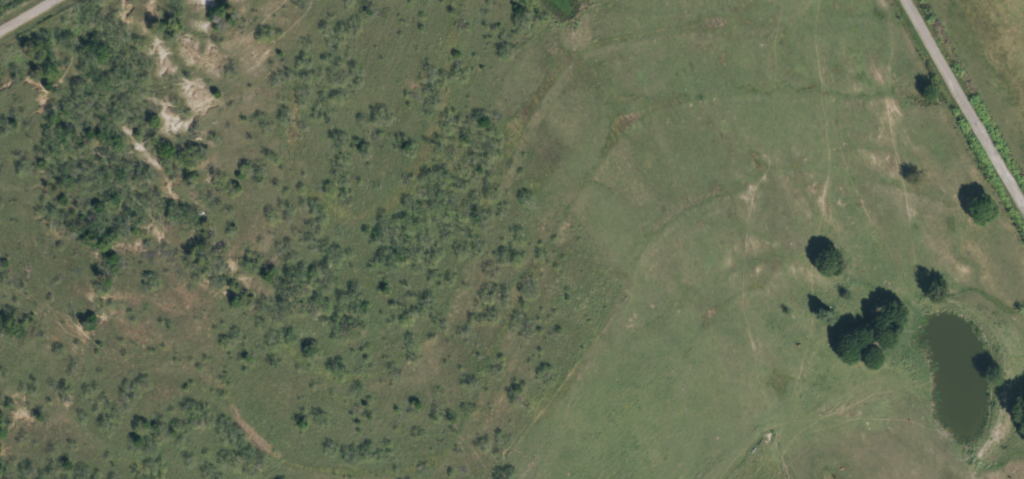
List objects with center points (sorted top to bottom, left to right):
road: (27, 15)
road: (965, 105)

